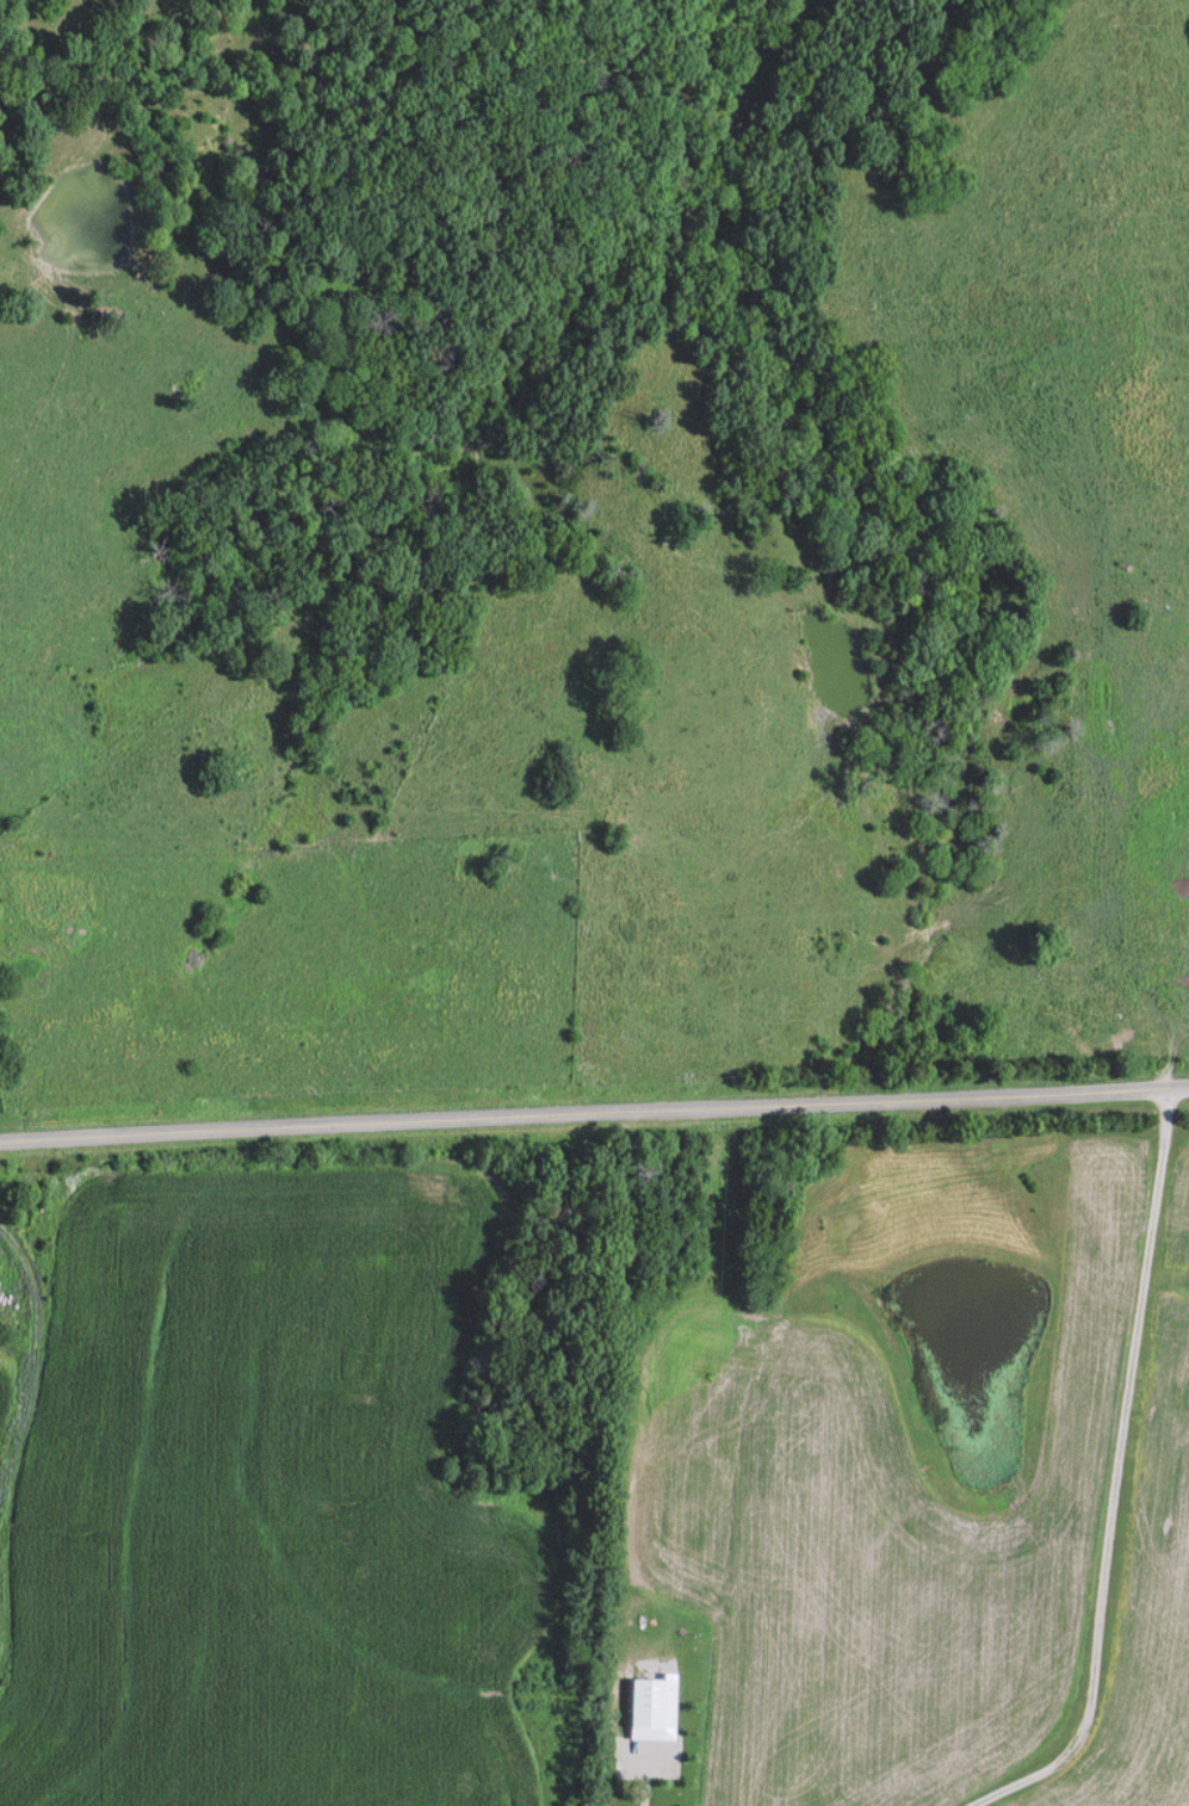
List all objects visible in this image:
road: (594, 1112)
road: (31, 1368)
road: (1121, 1473)
road: (1, 1643)
building: (646, 1708)

